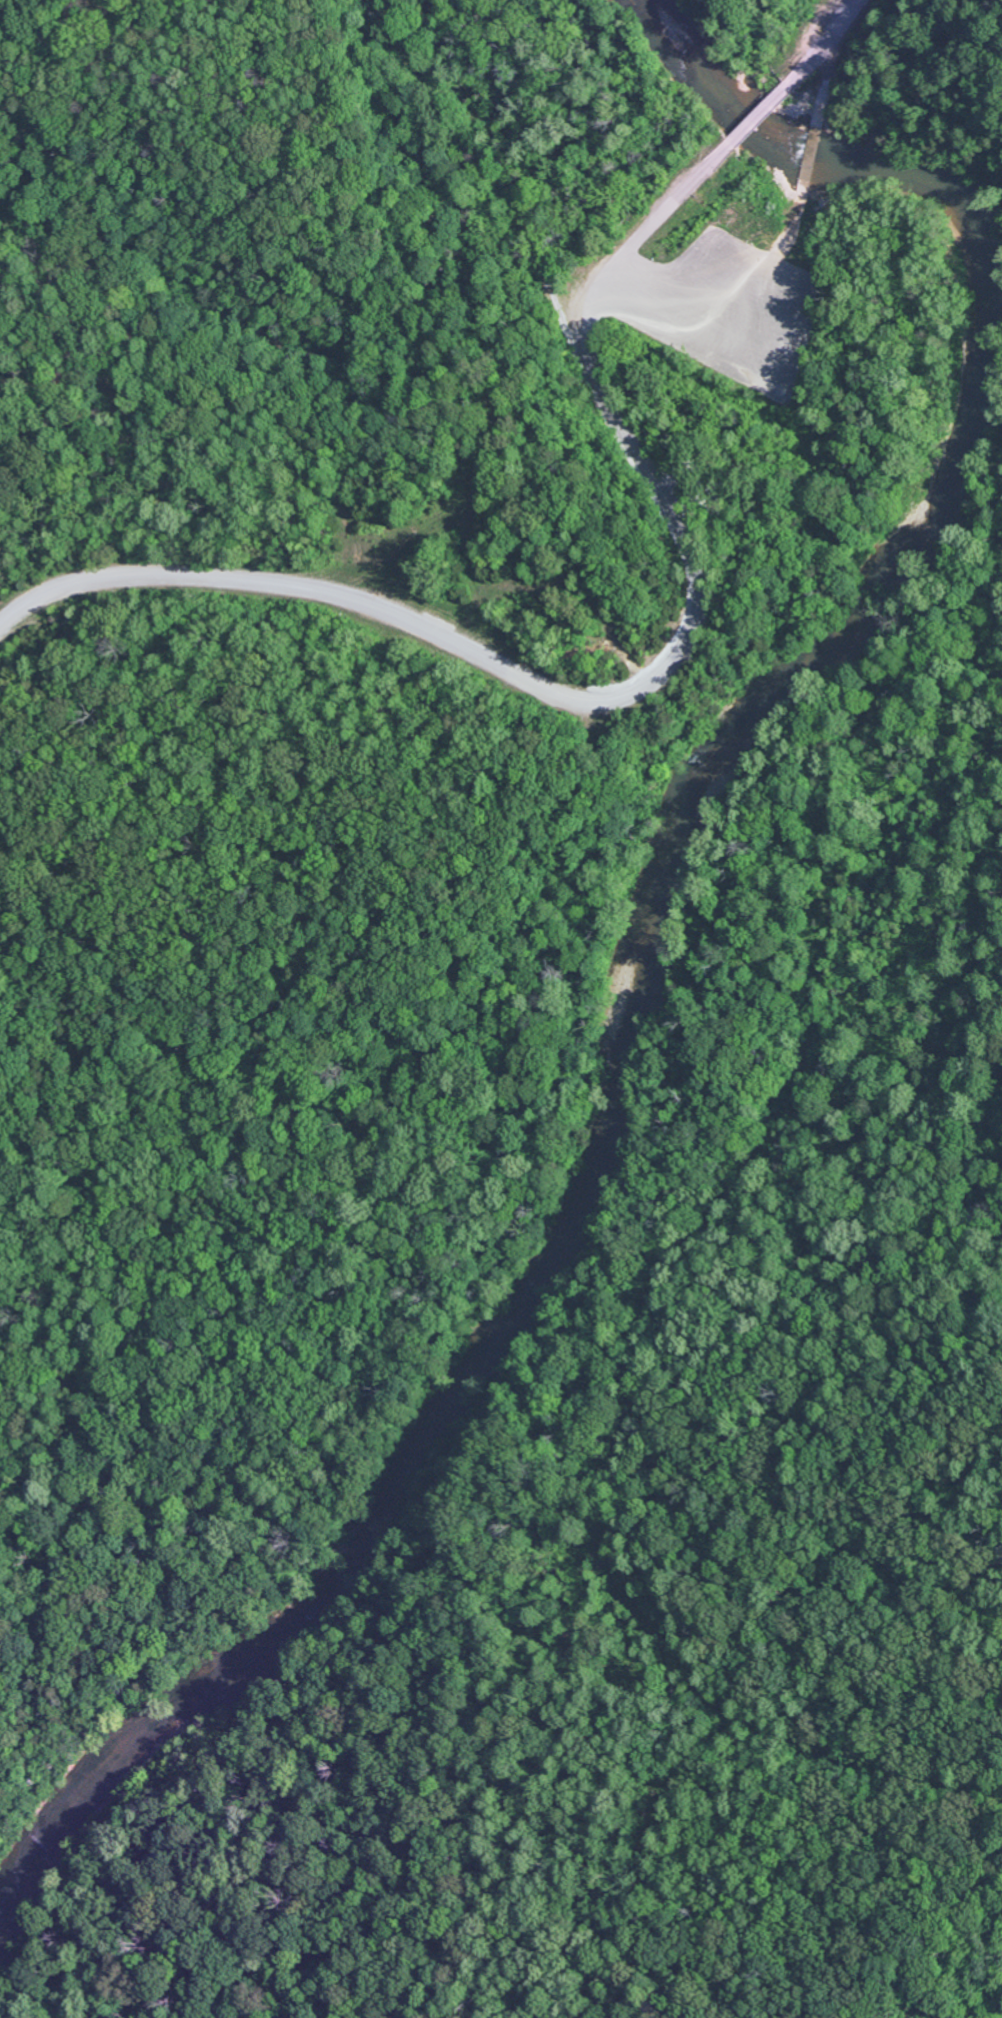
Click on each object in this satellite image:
road: (834, 31)
road: (761, 110)
road: (661, 227)
road: (538, 691)
river: (664, 905)

